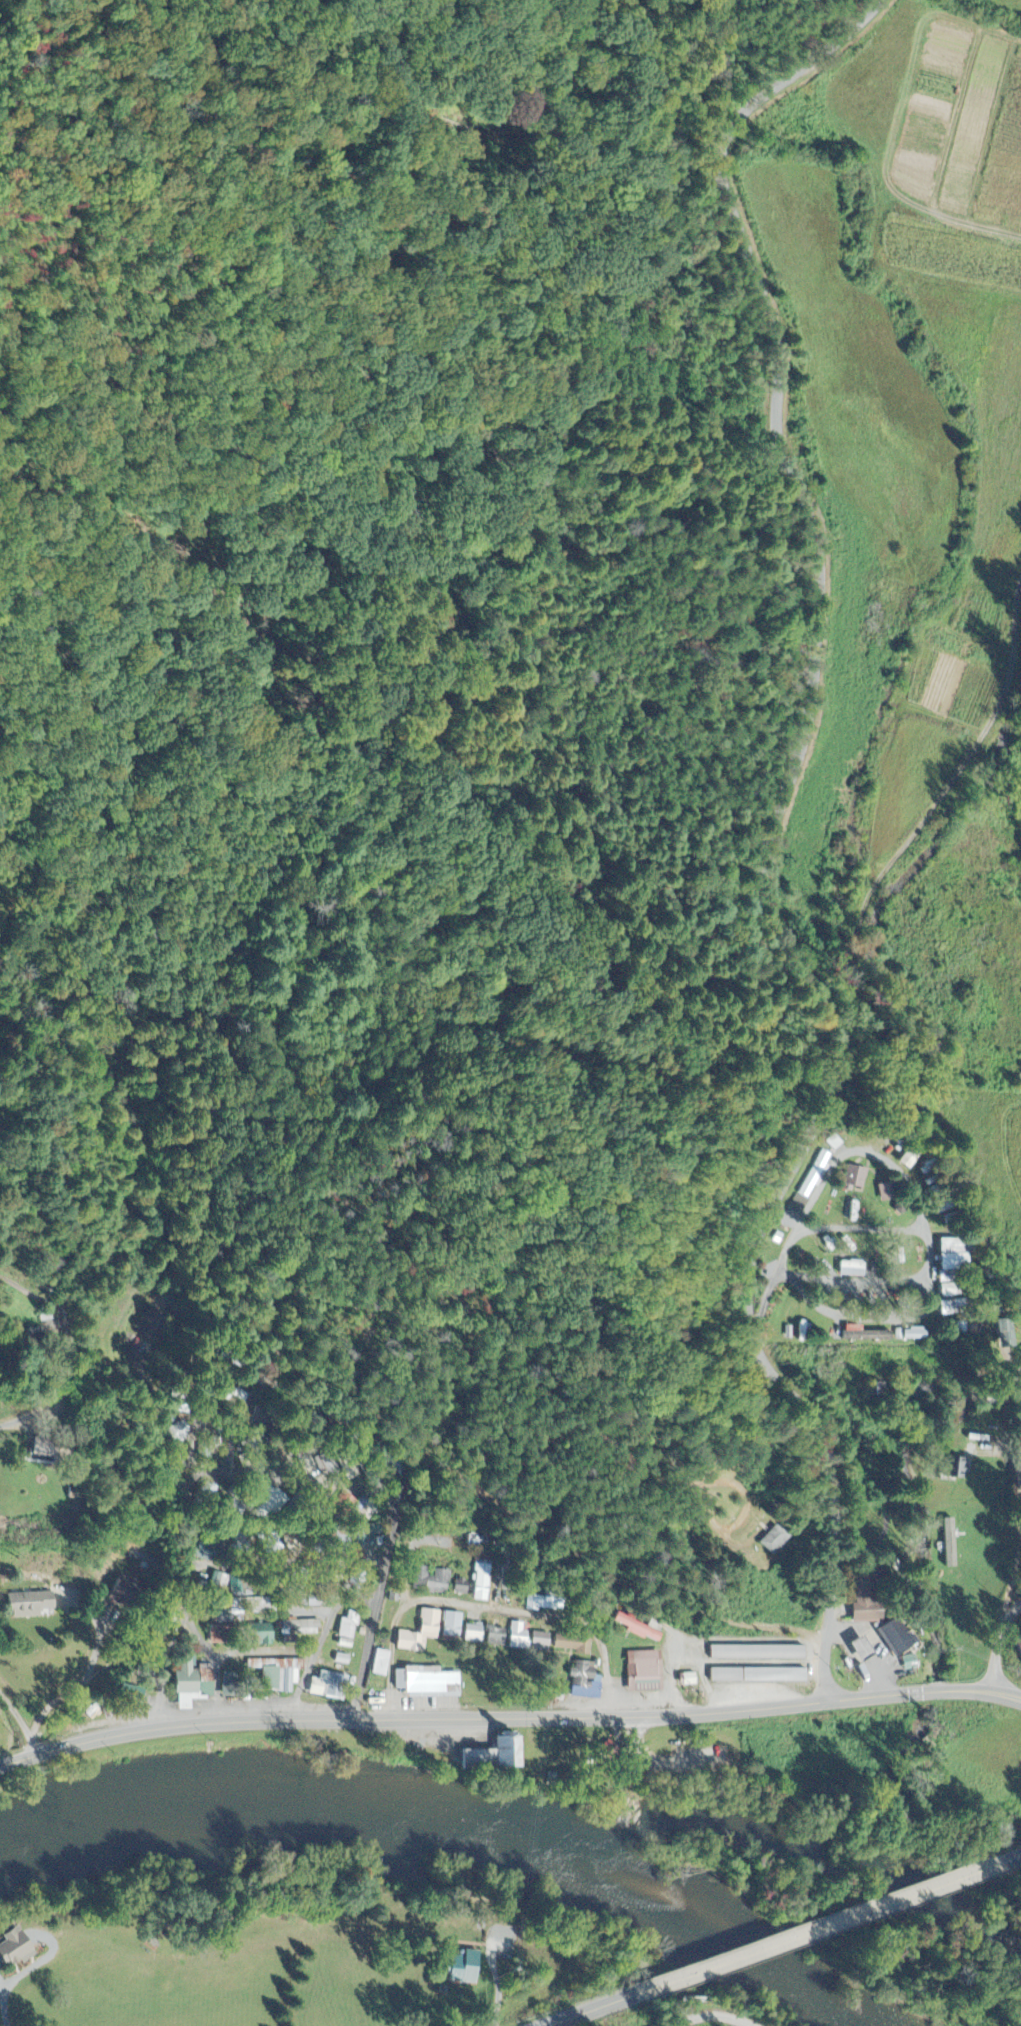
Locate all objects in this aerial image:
road: (774, 831)
building: (908, 1160)
building: (854, 1178)
building: (810, 1183)
building: (884, 1193)
building: (849, 1269)
building: (945, 1291)
building: (949, 1307)
building: (151, 1325)
building: (963, 1329)
building: (861, 1335)
building: (908, 1335)
building: (915, 1391)
road: (9, 1420)
building: (180, 1433)
building: (47, 1448)
road: (407, 1461)
building: (951, 1469)
road: (303, 1481)
road: (156, 1507)
building: (773, 1541)
building: (947, 1544)
road: (185, 1558)
road: (285, 1561)
building: (483, 1582)
building: (438, 1584)
building: (462, 1588)
building: (126, 1593)
building: (542, 1604)
road: (489, 1605)
building: (34, 1606)
building: (455, 1626)
building: (302, 1629)
building: (640, 1629)
building: (349, 1632)
building: (423, 1634)
building: (476, 1634)
building: (264, 1635)
building: (221, 1636)
building: (499, 1637)
building: (521, 1638)
building: (893, 1638)
road: (320, 1643)
building: (542, 1643)
building: (572, 1645)
road: (998, 1645)
building: (856, 1649)
building: (755, 1654)
building: (382, 1664)
building: (642, 1672)
building: (283, 1676)
building: (755, 1676)
building: (427, 1682)
building: (583, 1682)
building: (190, 1687)
building: (331, 1687)
road: (509, 1718)
road: (19, 1720)
building: (498, 1757)
river: (284, 1808)
road: (1011, 1858)
road: (818, 1928)
river: (719, 1939)
building: (20, 1950)
building: (460, 1969)
road: (6, 2007)
road: (589, 2010)
road: (712, 2015)

